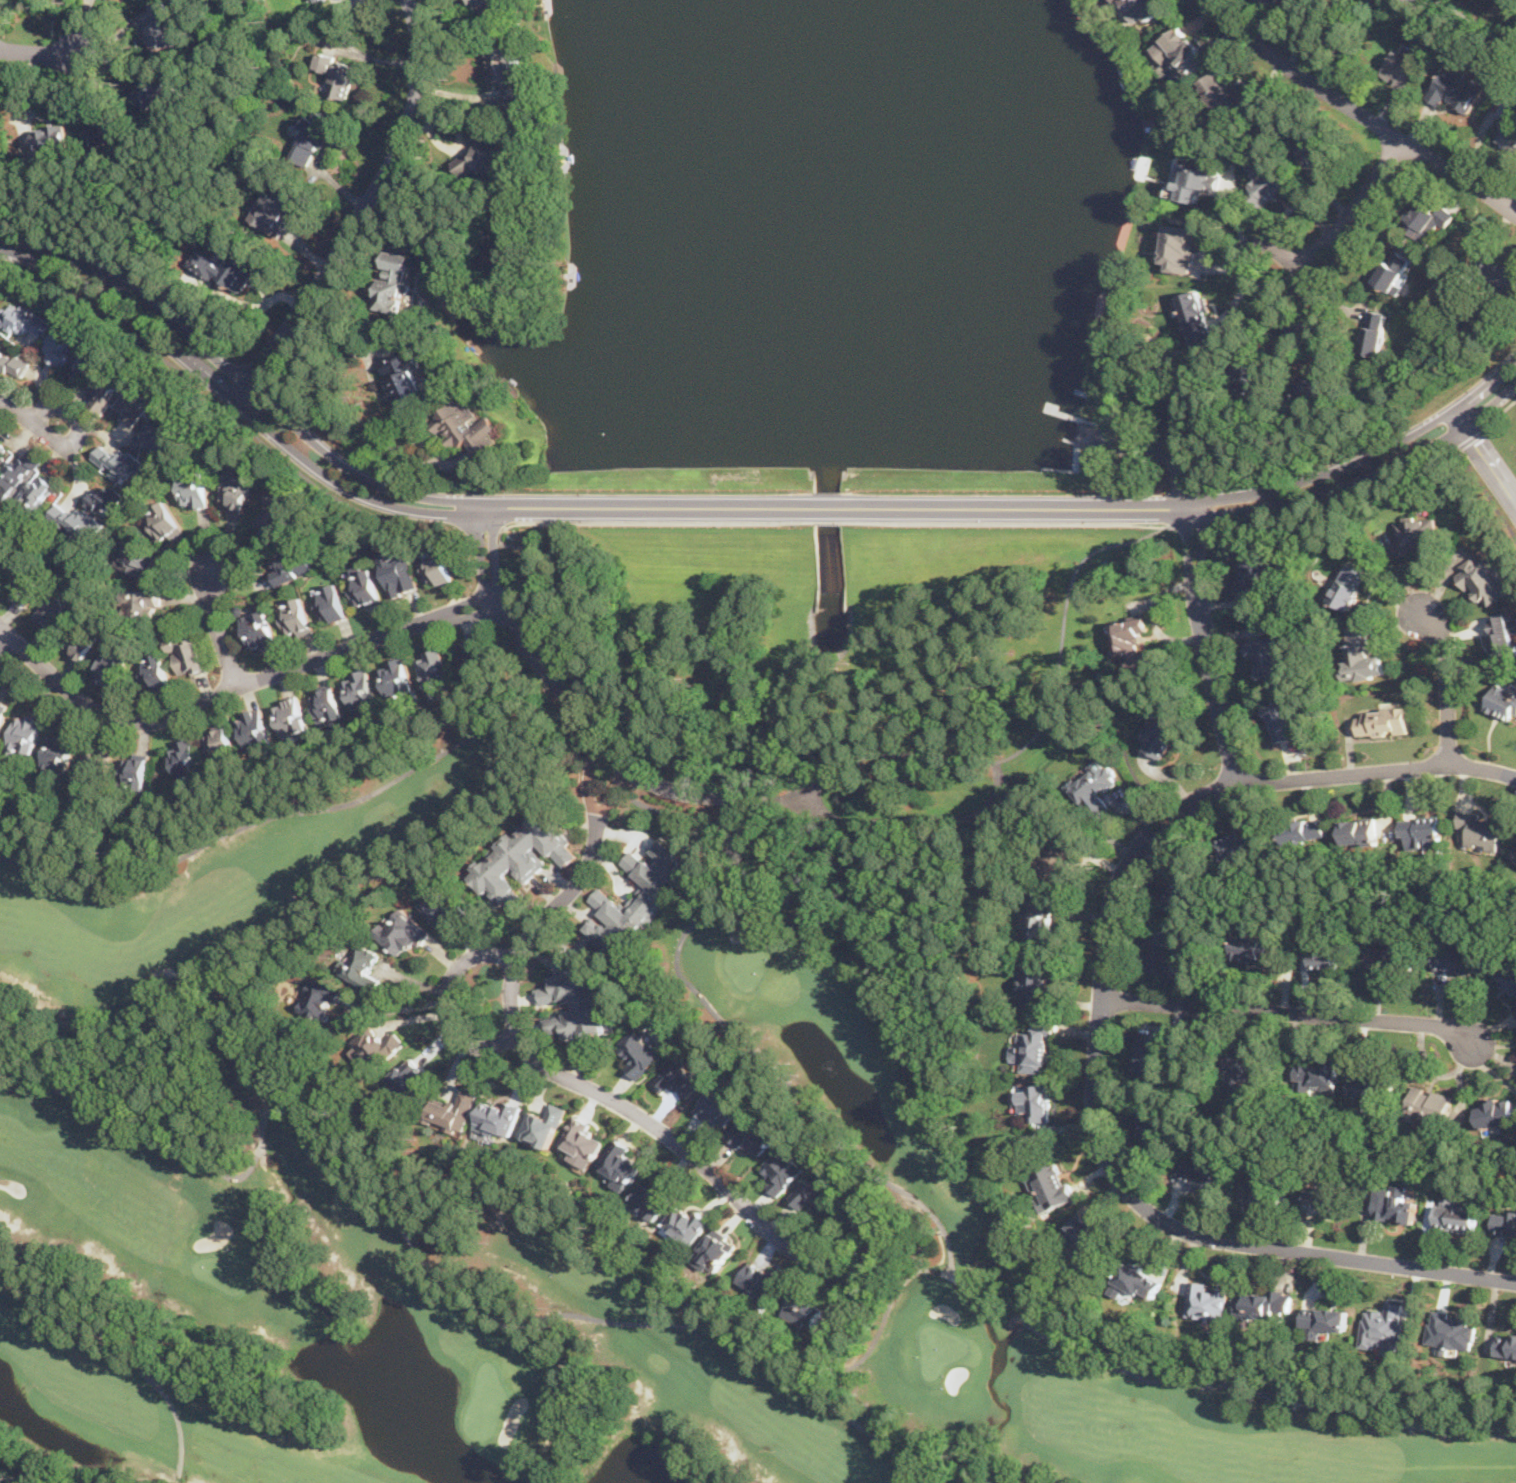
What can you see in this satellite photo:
building: (1280, 1)
building: (490, 8)
building: (1142, 9)
road: (1476, 20)
road: (328, 21)
building: (161, 27)
road: (1355, 34)
building: (1181, 50)
road: (36, 56)
building: (1402, 68)
building: (505, 72)
building: (336, 73)
building: (1457, 87)
building: (151, 89)
building: (1225, 94)
road: (1361, 112)
building: (1505, 122)
building: (106, 130)
building: (50, 136)
building: (312, 137)
building: (1309, 146)
road: (213, 148)
building: (485, 159)
road: (432, 175)
building: (1198, 182)
building: (1270, 184)
building: (275, 210)
road: (360, 210)
building: (1427, 219)
building: (510, 234)
road: (1263, 243)
building: (1181, 247)
building: (227, 267)
building: (1392, 270)
building: (1505, 278)
building: (395, 282)
building: (1197, 318)
building: (21, 320)
building: (1374, 332)
building: (56, 346)
building: (84, 360)
building: (12, 364)
road: (239, 374)
building: (405, 378)
building: (1253, 378)
building: (1318, 387)
building: (105, 389)
road: (235, 397)
road: (1113, 401)
building: (133, 404)
road: (348, 406)
road: (15, 410)
road: (1500, 411)
road: (232, 422)
road: (83, 425)
building: (465, 427)
road: (1170, 435)
road: (1472, 436)
building: (155, 438)
building: (1, 450)
road: (1488, 455)
building: (119, 463)
building: (16, 472)
building: (193, 489)
building: (237, 491)
road: (1487, 491)
building: (36, 492)
road: (1196, 495)
building: (106, 501)
road: (1331, 503)
road: (1198, 506)
road: (646, 508)
road: (829, 508)
building: (275, 515)
road: (830, 520)
building: (76, 522)
road: (649, 522)
road: (1007, 522)
building: (164, 523)
building: (1416, 534)
building: (6, 556)
building: (136, 560)
building: (292, 564)
building: (437, 567)
building: (399, 575)
building: (1255, 575)
building: (1483, 578)
building: (1348, 585)
building: (365, 586)
building: (29, 591)
building: (142, 601)
building: (330, 604)
building: (54, 611)
building: (295, 618)
road: (214, 624)
building: (259, 629)
building: (1502, 635)
road: (5, 642)
building: (1131, 642)
building: (84, 646)
road: (1206, 646)
building: (1361, 654)
building: (187, 656)
building: (1270, 658)
building: (473, 662)
building: (113, 669)
building: (434, 671)
building: (158, 672)
building: (397, 680)
road: (1447, 681)
road: (233, 688)
building: (361, 691)
building: (1502, 702)
building: (326, 704)
building: (3, 713)
building: (291, 718)
building: (1286, 720)
building: (1383, 721)
building: (1161, 731)
building: (256, 732)
building: (26, 734)
building: (220, 744)
building: (60, 750)
building: (187, 762)
road: (850, 763)
building: (94, 766)
building: (135, 768)
road: (1377, 770)
building: (1095, 786)
road: (682, 790)
building: (1305, 830)
building: (1482, 830)
building: (1359, 831)
building: (1422, 832)
building: (1241, 844)
building: (1056, 856)
building: (1514, 856)
building: (527, 862)
building: (656, 876)
building: (1182, 893)
road: (1326, 893)
building: (441, 907)
building: (1041, 919)
building: (609, 929)
building: (401, 931)
building: (1257, 947)
building: (1325, 947)
building: (1164, 949)
building: (1391, 956)
building: (1455, 959)
building: (360, 965)
building: (1507, 976)
building: (1038, 984)
building: (321, 997)
building: (577, 1001)
road: (447, 1002)
road: (396, 1008)
road: (1290, 1011)
building: (375, 1046)
building: (1034, 1046)
building: (641, 1048)
building: (1152, 1060)
building: (1242, 1065)
building: (411, 1076)
building: (679, 1076)
building: (1317, 1076)
building: (1369, 1089)
building: (1034, 1103)
building: (1428, 1103)
building: (717, 1107)
building: (455, 1108)
road: (627, 1109)
road: (1264, 1109)
building: (1495, 1111)
building: (496, 1119)
building: (543, 1124)
building: (1155, 1128)
building: (752, 1133)
building: (582, 1141)
road: (1107, 1159)
building: (621, 1163)
building: (782, 1169)
building: (1203, 1173)
building: (1053, 1185)
building: (814, 1191)
building: (1260, 1194)
building: (1326, 1195)
building: (654, 1197)
building: (1393, 1202)
building: (1457, 1215)
park: (513, 1221)
building: (1504, 1222)
building: (685, 1224)
building: (1085, 1236)
building: (715, 1250)
building: (760, 1279)
building: (1137, 1279)
building: (1205, 1300)
building: (1261, 1304)
building: (804, 1308)
building: (1323, 1319)
building: (1382, 1325)
building: (1450, 1331)
building: (1506, 1345)

